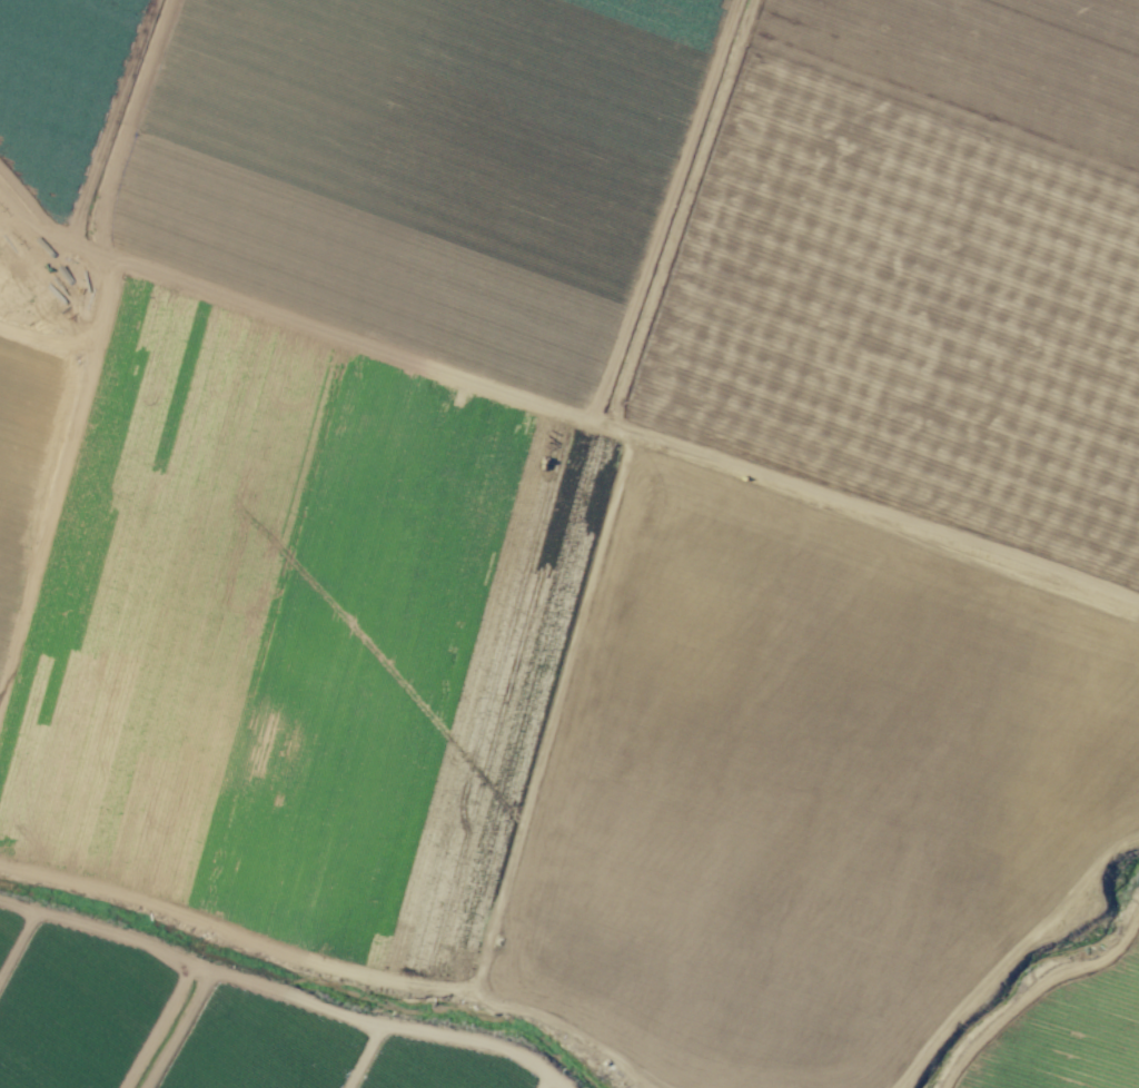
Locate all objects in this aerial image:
road: (115, 121)
road: (662, 210)
road: (41, 345)
road: (555, 409)
road: (62, 422)
road: (13, 508)
crop: (575, 546)
road: (551, 714)
road: (23, 958)
road: (1016, 958)
road: (331, 970)
road: (1033, 989)
road: (281, 993)
road: (1091, 1006)
road: (158, 1027)
road: (178, 1030)
road: (360, 1057)
road: (543, 1082)

